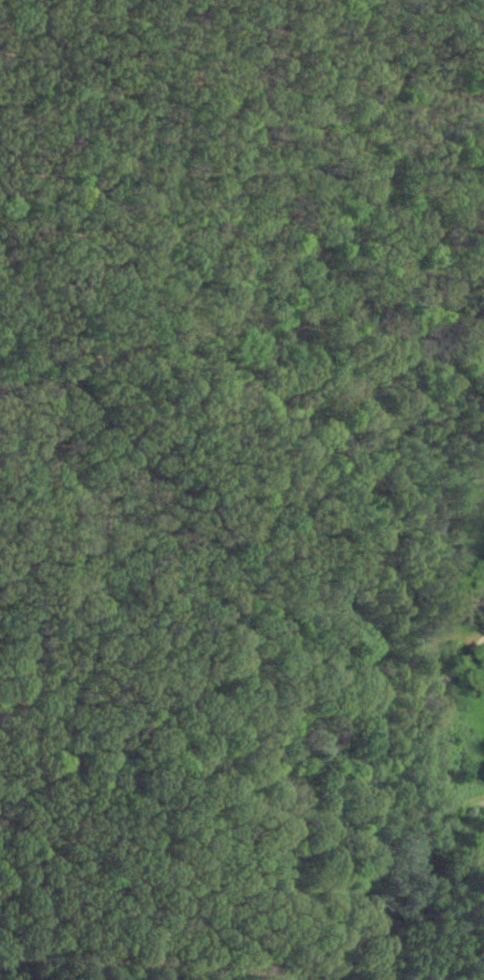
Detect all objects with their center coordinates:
road: (452, 805)
road: (421, 809)
road: (148, 955)
road: (390, 956)
road: (300, 969)

